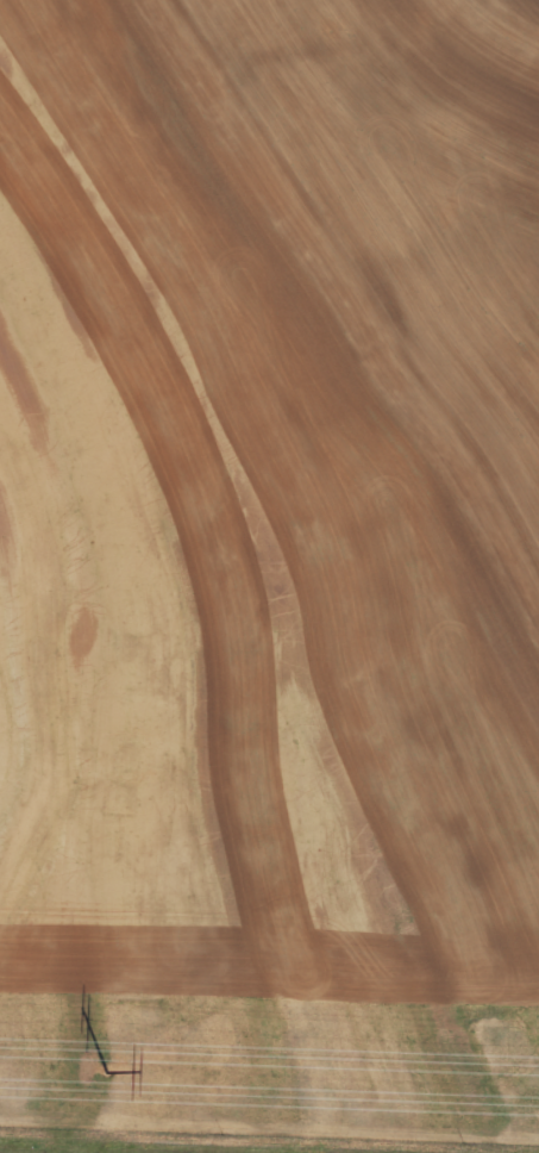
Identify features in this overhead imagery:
power tower: (106, 1070)

